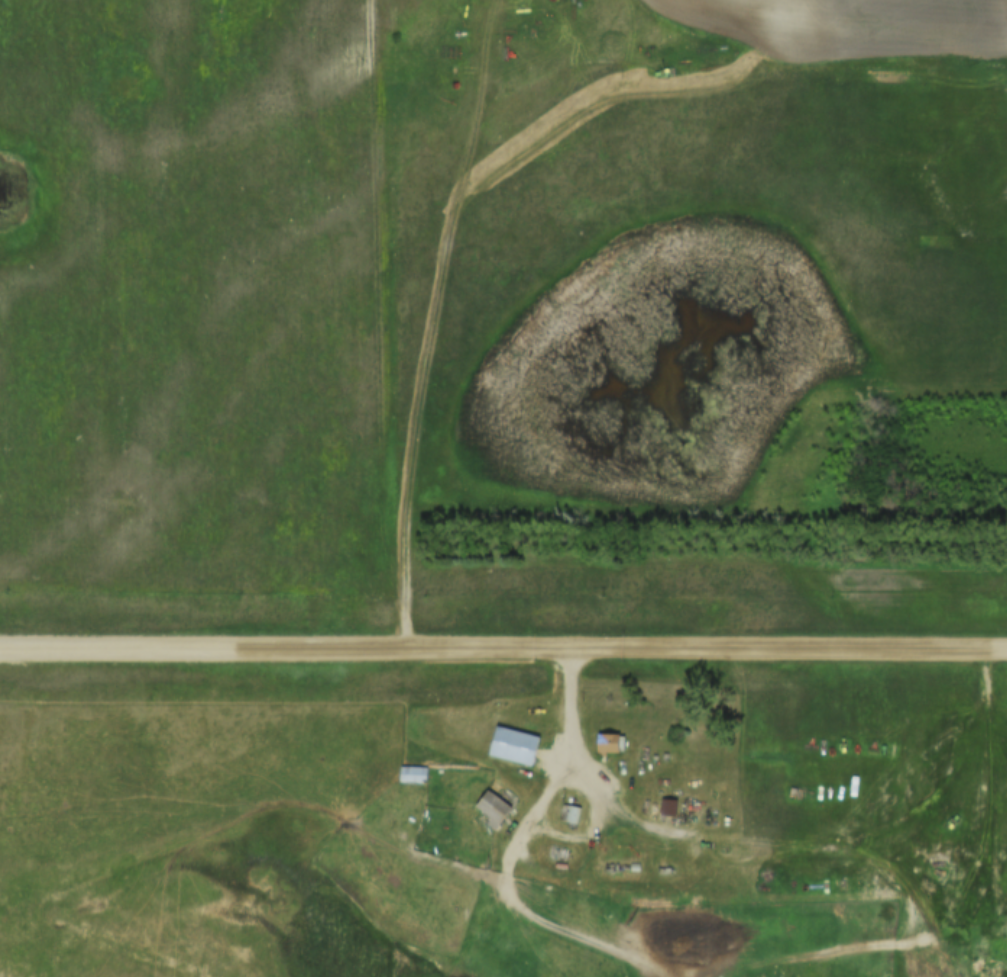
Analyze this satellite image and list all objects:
road: (503, 652)
building: (613, 745)
building: (523, 747)
building: (412, 776)
road: (567, 776)
building: (672, 809)
building: (491, 813)
building: (570, 815)
road: (584, 936)

